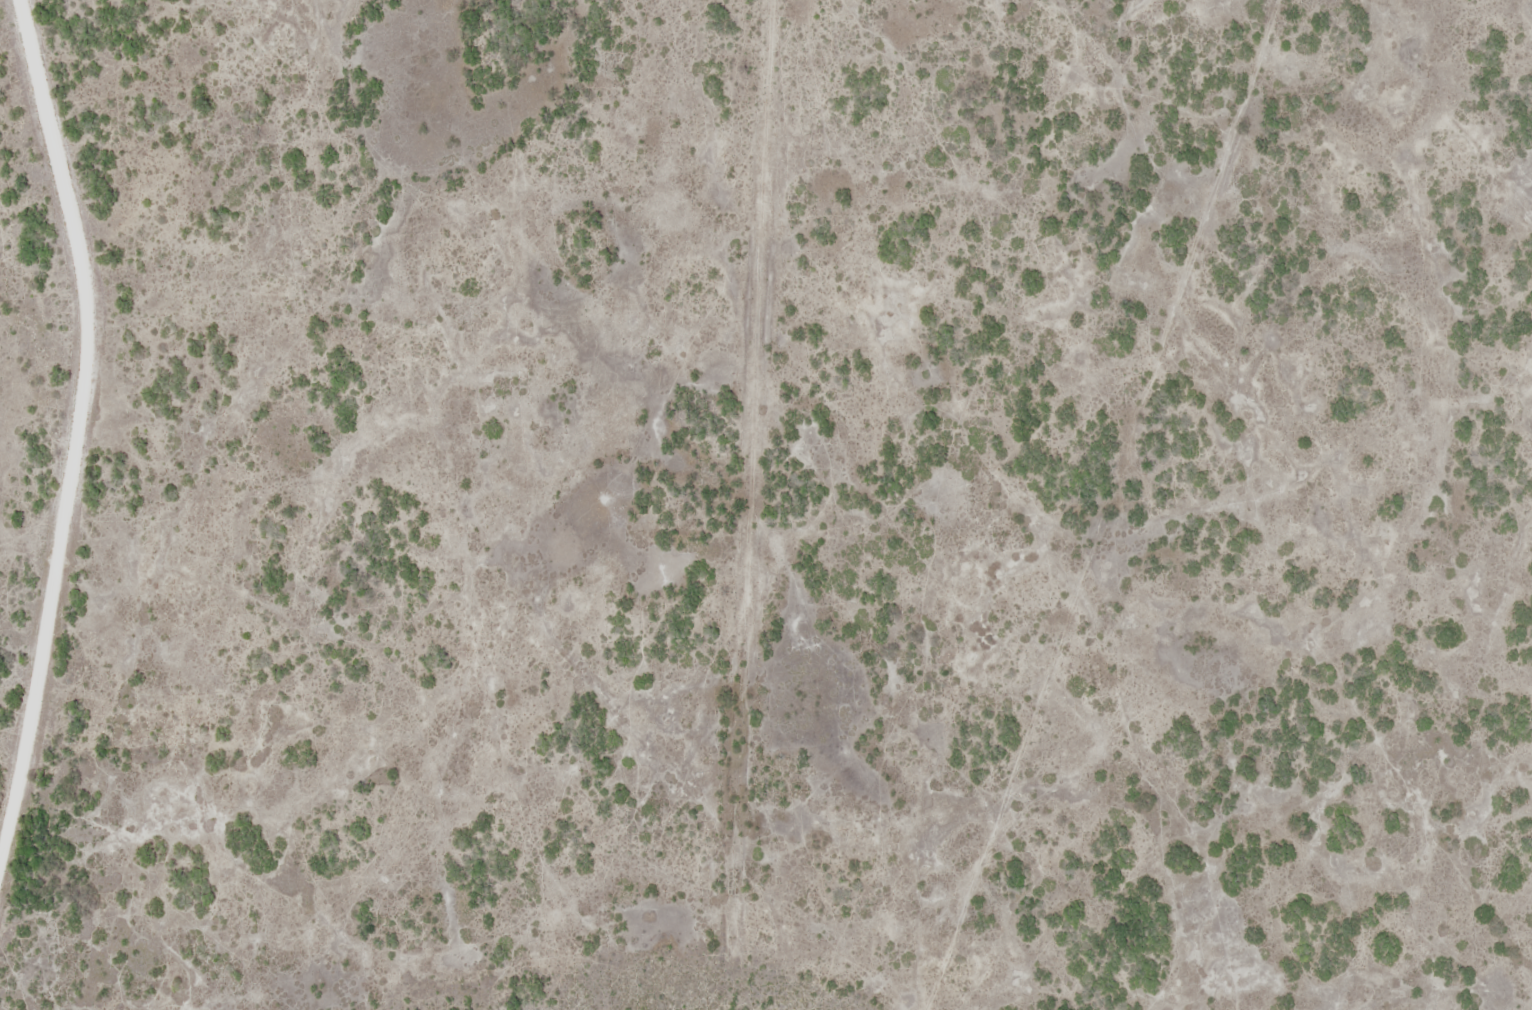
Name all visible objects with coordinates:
road: (757, 505)
road: (99, 519)

